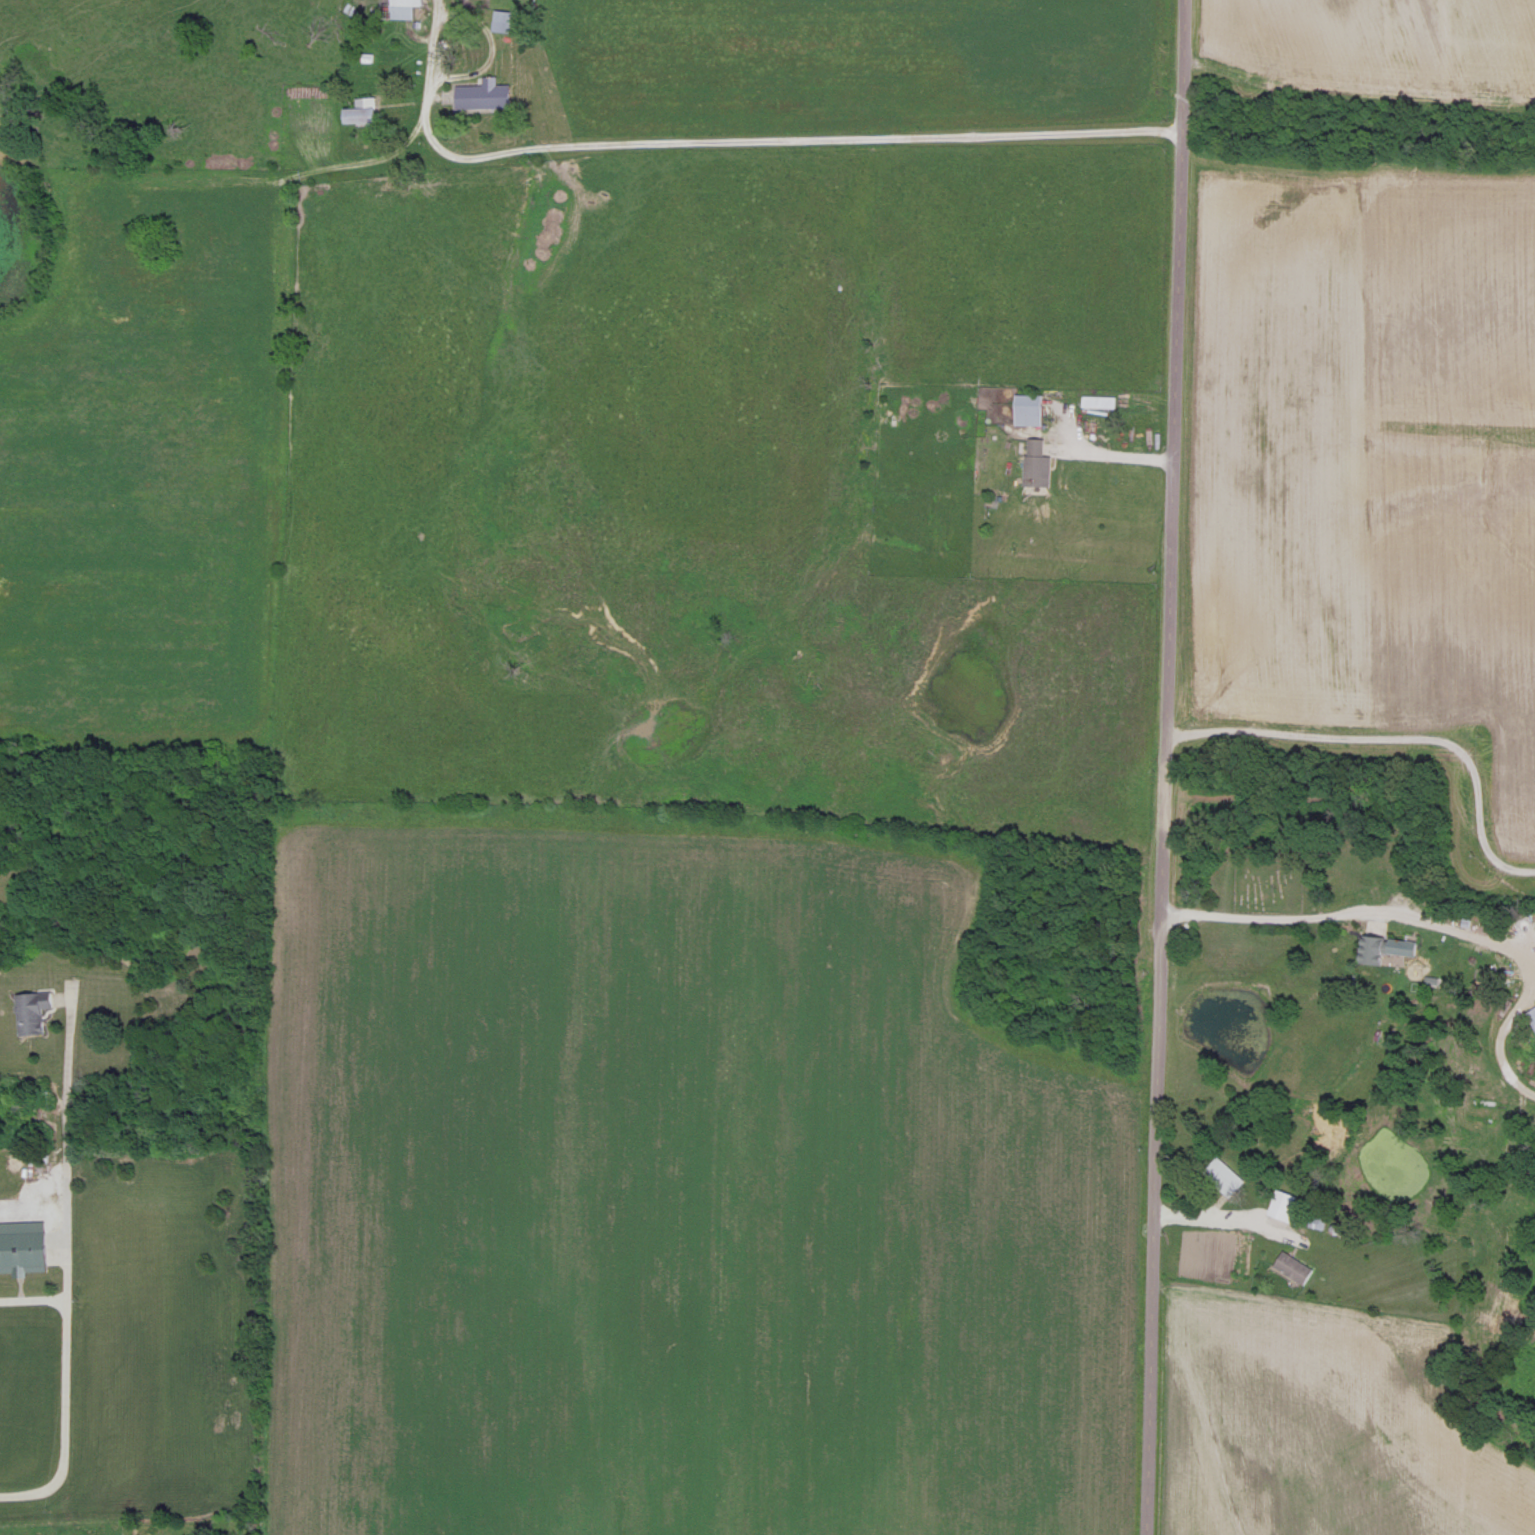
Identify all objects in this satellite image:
building: (396, 8)
building: (501, 20)
building: (482, 93)
building: (360, 110)
road: (737, 143)
building: (1028, 407)
road: (1108, 456)
building: (1036, 461)
road: (1395, 737)
road: (1163, 767)
park: (1269, 874)
road: (1351, 909)
building: (1401, 945)
building: (1371, 947)
road: (1532, 967)
building: (32, 1009)
building: (1532, 1012)
road: (1498, 1033)
building: (1224, 1175)
road: (31, 1203)
building: (1287, 1205)
road: (1215, 1218)
building: (21, 1247)
building: (1293, 1266)
road: (63, 1268)
building: (21, 1280)
road: (31, 1296)

